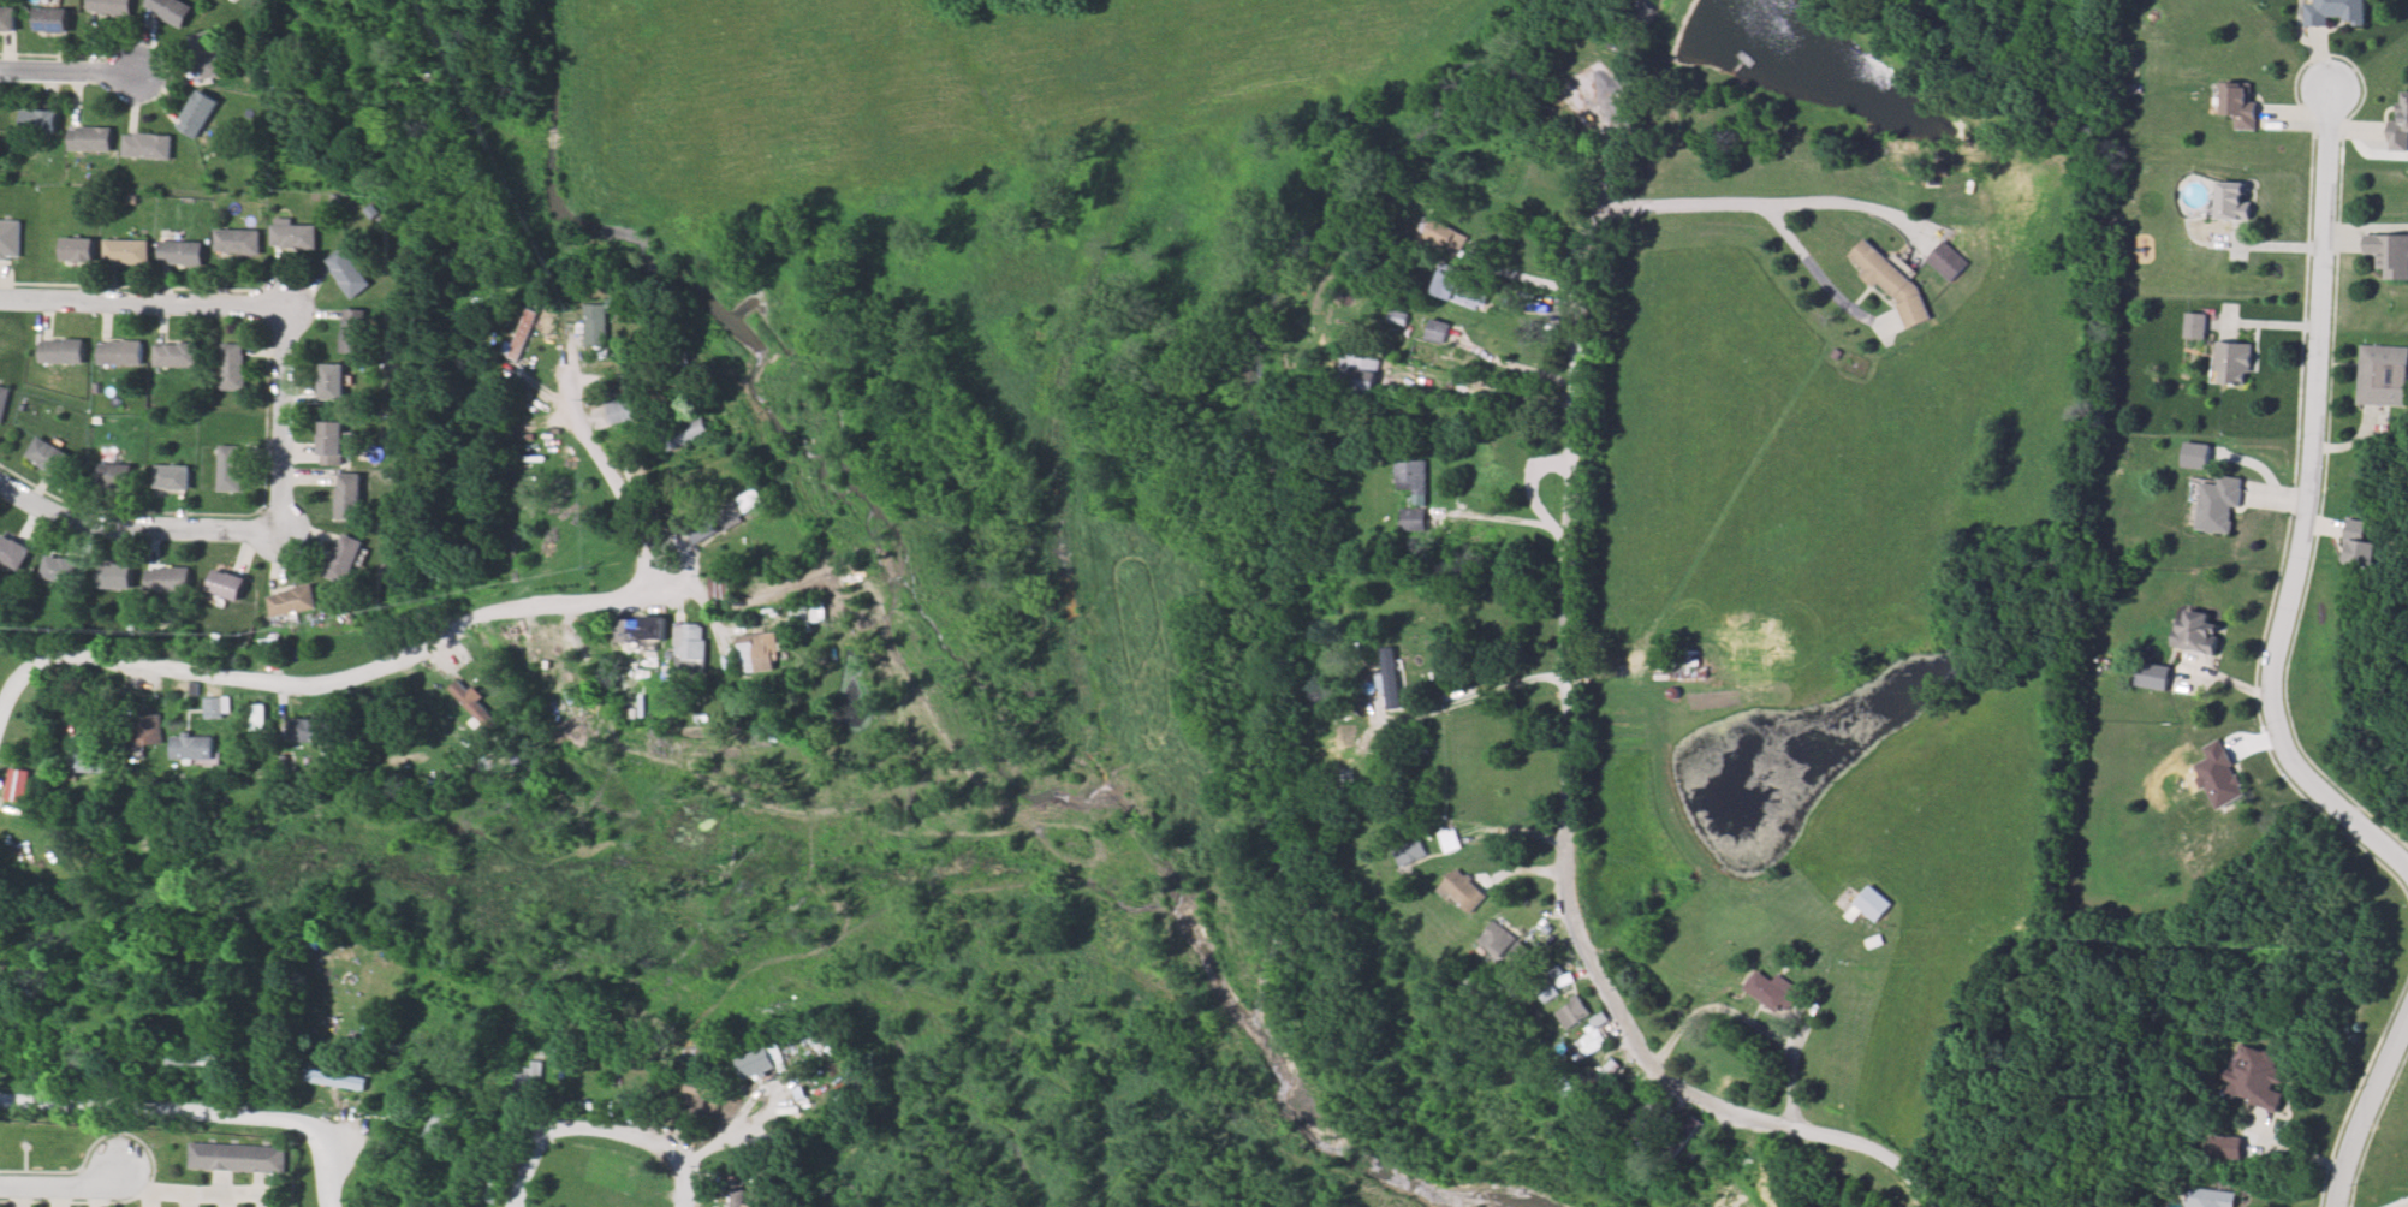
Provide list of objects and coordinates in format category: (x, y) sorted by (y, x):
building: (109, 7)
building: (168, 10)
building: (2335, 13)
building: (7, 18)
building: (49, 22)
building: (208, 54)
road: (69, 71)
road: (1649, 72)
park: (396, 91)
building: (2237, 103)
building: (197, 112)
building: (2396, 118)
building: (38, 121)
building: (90, 139)
building: (147, 145)
road: (1753, 203)
road: (1841, 203)
building: (2232, 203)
building: (292, 234)
building: (1441, 237)
building: (7, 238)
building: (236, 240)
building: (75, 249)
building: (125, 251)
building: (180, 252)
building: (2386, 252)
building: (1948, 261)
building: (346, 270)
road: (163, 280)
building: (1892, 283)
building: (1459, 290)
road: (144, 301)
building: (605, 317)
building: (2195, 325)
building: (355, 329)
building: (1435, 331)
building: (58, 351)
building: (117, 353)
building: (176, 355)
building: (2232, 362)
building: (231, 365)
road: (1514, 367)
building: (1360, 371)
building: (2382, 375)
building: (331, 381)
building: (1, 397)
building: (619, 411)
road: (286, 421)
building: (682, 435)
building: (329, 440)
road: (302, 448)
building: (43, 453)
road: (263, 453)
building: (230, 468)
building: (113, 474)
building: (171, 478)
road: (310, 478)
building: (1411, 478)
building: (346, 495)
road: (2308, 505)
building: (2216, 506)
building: (738, 509)
building: (1413, 519)
road: (1504, 522)
building: (702, 528)
road: (135, 529)
road: (310, 540)
building: (2361, 545)
building: (1784, 548)
road: (155, 549)
building: (12, 552)
road: (240, 555)
building: (340, 557)
road: (279, 565)
building: (59, 567)
building: (113, 578)
building: (167, 578)
building: (221, 583)
road: (697, 584)
building: (719, 587)
building: (291, 601)
building: (803, 613)
building: (2196, 630)
building: (631, 631)
building: (689, 642)
road: (426, 652)
building: (753, 653)
building: (1389, 676)
building: (2152, 676)
road: (1480, 694)
building: (470, 704)
building: (213, 708)
building: (258, 717)
building: (144, 729)
building: (313, 730)
building: (376, 739)
building: (192, 748)
road: (1568, 754)
building: (85, 763)
building: (2222, 779)
building: (1331, 781)
building: (1451, 840)
building: (1409, 852)
dam: (1704, 856)
building: (1463, 890)
building: (1869, 905)
building: (1497, 939)
building: (1545, 989)
building: (1772, 992)
building: (1571, 1012)
building: (1591, 1039)
building: (190, 1060)
building: (757, 1064)
building: (2258, 1070)
building: (335, 1080)
building: (527, 1083)
building: (1595, 1086)
building: (698, 1095)
building: (587, 1102)
road: (201, 1113)
road: (2370, 1116)
building: (1653, 1119)
building: (439, 1120)
road: (596, 1130)
building: (1681, 1141)
building: (772, 1146)
building: (236, 1157)
road: (219, 1179)
road: (255, 1181)
road: (63, 1185)
road: (185, 1188)
building: (487, 1188)
road: (18, 1195)
road: (58, 1196)
road: (99, 1196)
road: (145, 1196)
building: (751, 1196)
road: (184, 1197)
road: (221, 1197)
building: (2213, 1197)
road: (255, 1199)

